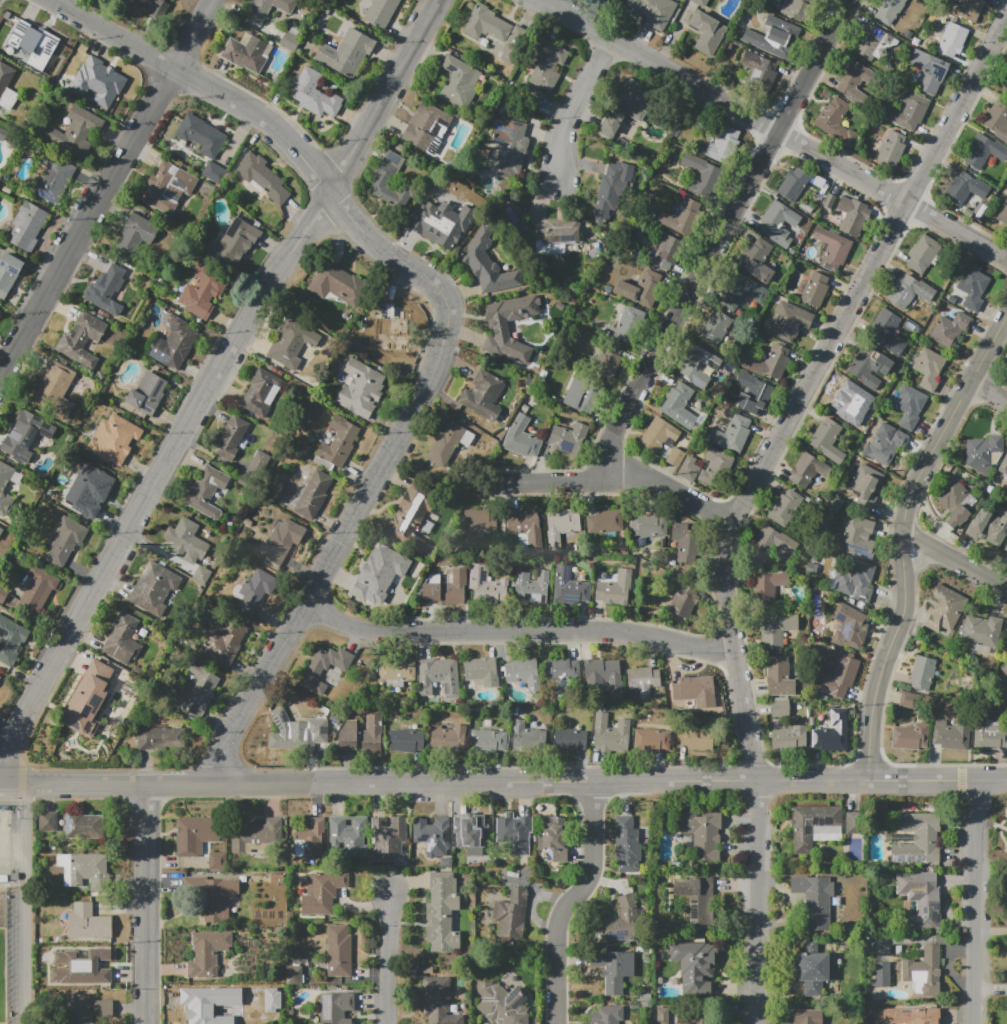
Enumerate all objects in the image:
building: (613, 0)
building: (699, 2)
building: (158, 4)
building: (383, 8)
building: (797, 8)
building: (267, 9)
building: (963, 9)
building: (891, 10)
building: (652, 12)
building: (495, 32)
building: (707, 32)
building: (774, 37)
building: (952, 39)
building: (33, 42)
building: (289, 42)
building: (871, 44)
building: (245, 53)
building: (346, 53)
building: (547, 64)
building: (760, 71)
building: (927, 71)
building: (5, 77)
building: (98, 81)
road: (203, 82)
building: (459, 82)
building: (854, 82)
building: (1005, 86)
building: (314, 94)
building: (531, 95)
building: (626, 105)
road: (574, 107)
building: (907, 111)
building: (997, 120)
building: (834, 121)
road: (772, 128)
building: (427, 129)
building: (3, 134)
building: (73, 134)
building: (201, 135)
building: (723, 144)
building: (510, 148)
building: (892, 148)
building: (984, 150)
building: (215, 173)
building: (702, 175)
building: (262, 177)
building: (389, 179)
building: (54, 180)
building: (793, 183)
building: (169, 188)
building: (614, 188)
building: (965, 188)
road: (106, 190)
building: (1003, 212)
building: (681, 218)
building: (854, 218)
building: (441, 222)
building: (779, 223)
building: (27, 225)
building: (136, 233)
road: (719, 237)
building: (554, 240)
building: (233, 243)
building: (833, 248)
building: (666, 252)
building: (923, 253)
road: (393, 257)
building: (757, 260)
building: (487, 264)
building: (8, 272)
building: (338, 283)
building: (973, 287)
building: (106, 288)
building: (640, 289)
building: (813, 289)
building: (203, 291)
building: (741, 291)
building: (903, 291)
building: (788, 321)
building: (629, 325)
building: (884, 326)
building: (393, 328)
building: (715, 328)
building: (500, 329)
building: (949, 329)
building: (82, 339)
building: (291, 342)
building: (173, 343)
building: (609, 359)
building: (768, 362)
building: (699, 366)
building: (869, 368)
building: (929, 368)
road: (209, 386)
building: (54, 389)
building: (361, 389)
building: (262, 390)
road: (989, 390)
building: (147, 393)
building: (753, 393)
building: (484, 395)
building: (580, 395)
building: (846, 400)
building: (909, 405)
building: (681, 407)
building: (26, 432)
building: (657, 434)
building: (330, 435)
building: (729, 435)
building: (231, 437)
building: (521, 438)
building: (113, 439)
building: (569, 439)
building: (827, 440)
building: (328, 441)
building: (448, 443)
building: (337, 444)
building: (884, 444)
building: (984, 453)
building: (675, 457)
building: (257, 463)
building: (1003, 465)
building: (688, 468)
building: (716, 468)
building: (807, 470)
building: (4, 480)
road: (615, 481)
building: (206, 485)
building: (866, 485)
building: (94, 493)
road: (748, 493)
building: (312, 494)
building: (956, 502)
building: (785, 508)
building: (412, 516)
building: (605, 521)
building: (476, 523)
building: (561, 525)
building: (648, 525)
building: (1, 527)
building: (527, 527)
building: (989, 527)
building: (856, 536)
road: (903, 536)
building: (65, 540)
building: (187, 541)
building: (684, 542)
building: (280, 543)
building: (771, 543)
building: (1005, 548)
road: (331, 551)
road: (954, 559)
building: (384, 571)
building: (853, 580)
building: (487, 586)
building: (569, 586)
building: (154, 587)
building: (538, 587)
building: (768, 587)
building: (615, 588)
building: (448, 589)
building: (36, 590)
building: (255, 590)
building: (3, 595)
building: (684, 600)
building: (944, 609)
building: (849, 627)
building: (777, 629)
road: (516, 631)
building: (980, 634)
building: (10, 639)
building: (122, 639)
building: (224, 641)
building: (324, 668)
building: (479, 668)
building: (396, 669)
building: (561, 669)
building: (1004, 669)
building: (839, 672)
building: (923, 672)
building: (524, 673)
building: (603, 676)
building: (779, 676)
building: (0, 677)
building: (439, 677)
building: (641, 682)
building: (198, 690)
building: (691, 691)
building: (88, 698)
building: (908, 700)
building: (780, 708)
building: (298, 729)
building: (988, 730)
building: (832, 732)
building: (528, 733)
building: (610, 733)
building: (953, 733)
building: (158, 736)
building: (361, 736)
building: (910, 736)
building: (448, 738)
building: (694, 738)
building: (788, 738)
building: (569, 739)
building: (487, 740)
building: (651, 740)
building: (406, 741)
road: (2, 781)
road: (75, 781)
road: (181, 781)
road: (611, 781)
building: (854, 823)
building: (73, 824)
building: (814, 826)
building: (198, 834)
building: (254, 834)
building: (350, 834)
building: (433, 835)
building: (700, 835)
building: (553, 836)
building: (467, 837)
building: (519, 837)
building: (389, 838)
building: (310, 839)
building: (917, 839)
building: (627, 843)
park: (3, 846)
road: (19, 851)
building: (85, 871)
road: (10, 885)
building: (323, 892)
building: (213, 895)
building: (814, 899)
building: (920, 899)
road: (570, 901)
building: (695, 901)
road: (147, 902)
road: (977, 902)
building: (442, 913)
building: (511, 914)
building: (621, 920)
building: (87, 922)
building: (338, 950)
building: (207, 953)
road: (393, 961)
building: (693, 964)
building: (811, 968)
building: (76, 969)
building: (924, 970)
building: (611, 972)
road: (21, 973)
building: (882, 974)
building: (294, 975)
park: (2, 977)
building: (271, 999)
building: (438, 1001)
building: (207, 1003)
building: (502, 1004)
building: (102, 1007)
building: (78, 1008)
building: (334, 1008)
building: (607, 1014)
building: (807, 1016)
building: (910, 1016)
building: (701, 1019)

